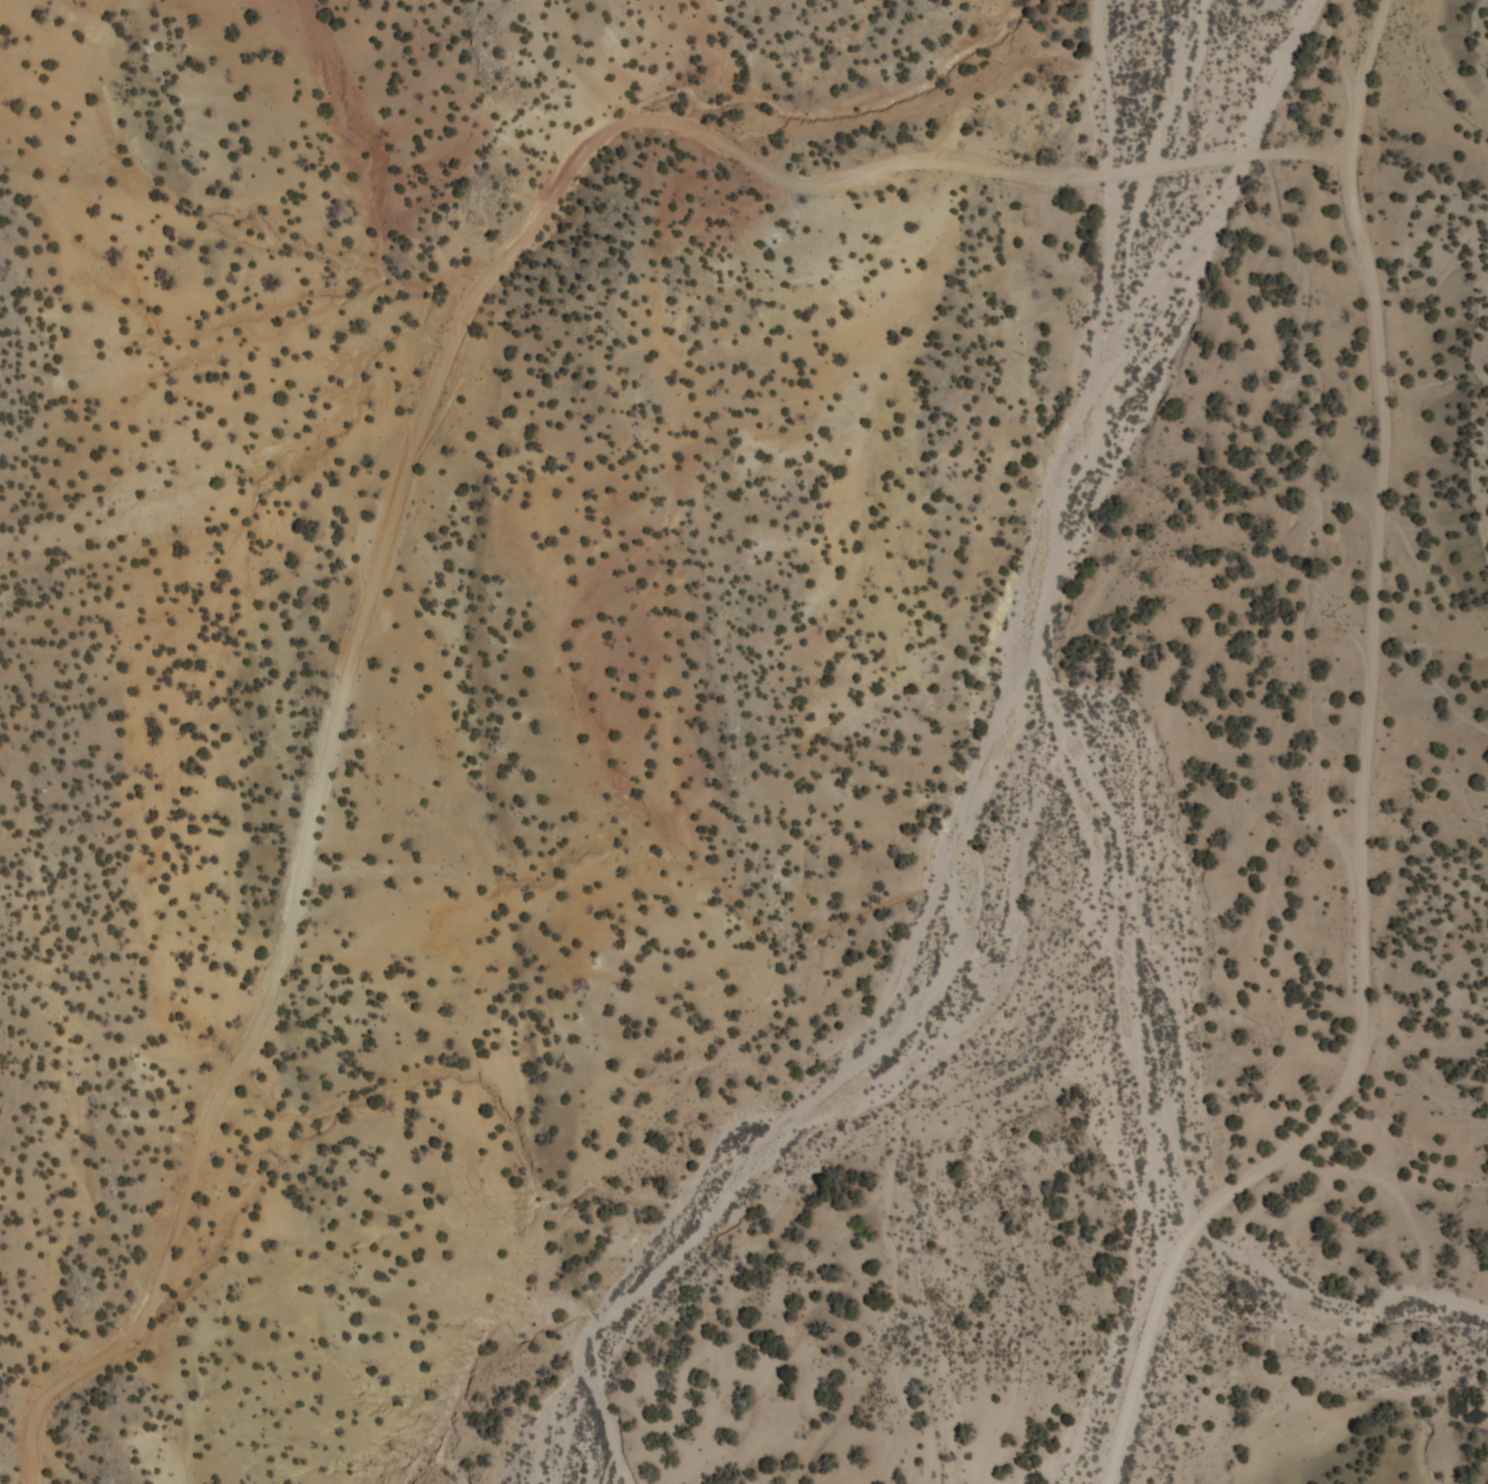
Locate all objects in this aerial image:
road: (417, 437)
river: (1060, 734)
road: (1369, 782)

